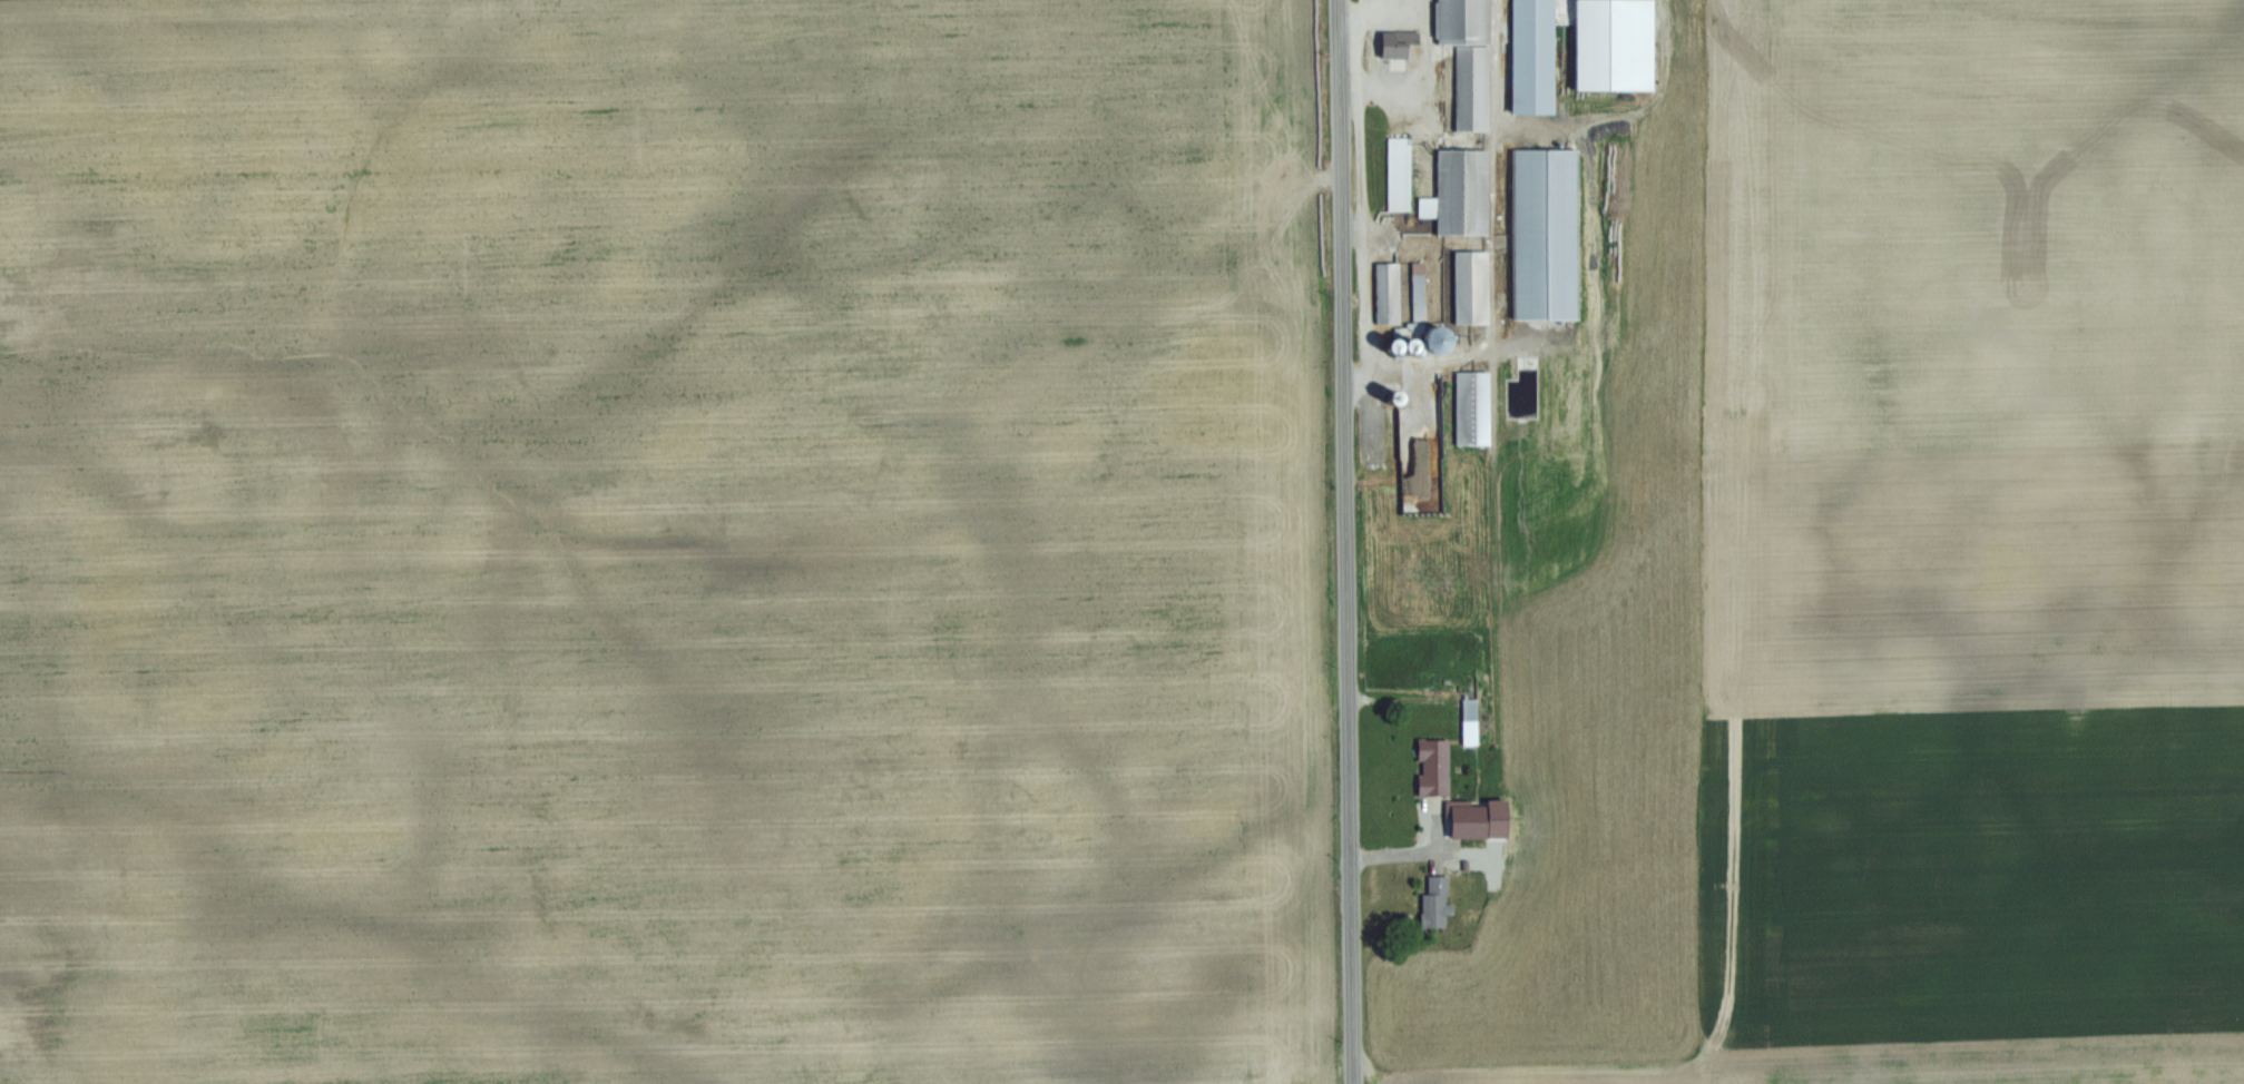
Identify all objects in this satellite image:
building: (1398, 50)
road: (1368, 56)
building: (1537, 56)
building: (1472, 58)
road: (1500, 63)
road: (1424, 81)
road: (1628, 109)
road: (1454, 138)
road: (1358, 162)
building: (1402, 174)
building: (1467, 191)
building: (1430, 207)
building: (1549, 234)
road: (1378, 237)
building: (1477, 287)
building: (1392, 293)
road: (1363, 312)
road: (1492, 335)
road: (1478, 348)
road: (1493, 359)
road: (1413, 386)
building: (1479, 407)
road: (1346, 542)
road: (1401, 696)
building: (1470, 719)
building: (1434, 767)
building: (1468, 818)
road: (1417, 851)
road: (1438, 859)
building: (1466, 865)
building: (1434, 901)

